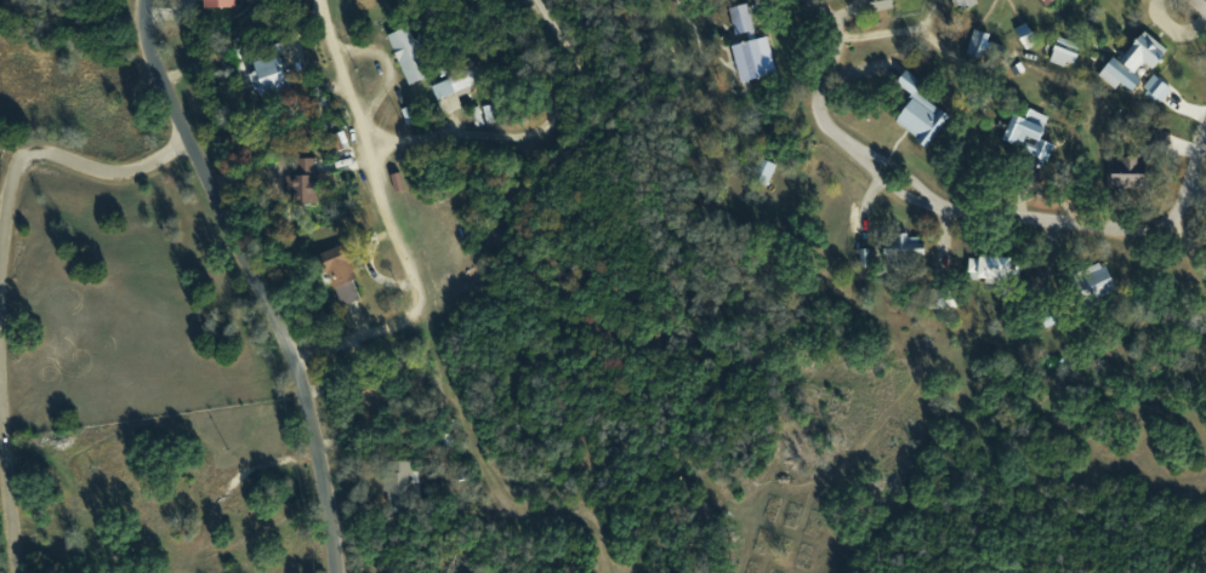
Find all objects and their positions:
building: (216, 4)
building: (961, 4)
building: (878, 5)
road: (1200, 5)
building: (739, 19)
building: (1023, 35)
building: (975, 44)
building: (1063, 52)
building: (405, 56)
building: (751, 59)
building: (1131, 62)
building: (266, 74)
building: (454, 82)
building: (1154, 87)
building: (917, 111)
building: (488, 113)
building: (476, 116)
road: (529, 130)
building: (1028, 132)
building: (763, 171)
building: (1125, 171)
building: (300, 182)
road: (972, 206)
road: (391, 216)
building: (903, 246)
building: (864, 257)
building: (986, 267)
road: (2, 271)
building: (339, 273)
building: (1094, 280)
road: (254, 282)
building: (399, 482)

